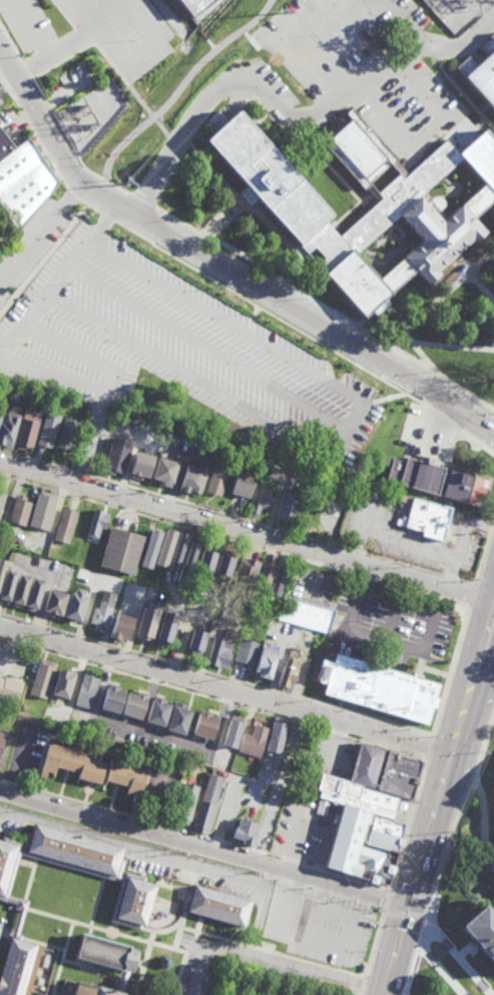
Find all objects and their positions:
building: (194, 5)
power substation: (460, 12)
power tower: (287, 13)
road: (409, 23)
road: (29, 27)
road: (66, 40)
parking lot: (89, 44)
road: (140, 54)
power tower: (222, 56)
parking lot: (359, 61)
road: (306, 63)
building: (465, 65)
building: (483, 78)
road: (181, 85)
road: (348, 93)
parking lot: (4, 98)
power substation: (88, 114)
road: (56, 117)
road: (33, 134)
building: (266, 175)
building: (23, 179)
road: (101, 184)
power tower: (129, 184)
road: (72, 194)
road: (356, 194)
road: (369, 198)
road: (146, 201)
road: (84, 202)
road: (95, 209)
building: (410, 210)
road: (248, 212)
road: (225, 216)
road: (111, 217)
road: (41, 230)
parking lot: (36, 235)
parking lot: (1, 237)
road: (323, 238)
road: (341, 249)
road: (335, 253)
power tower: (59, 255)
road: (45, 261)
road: (221, 261)
road: (481, 261)
road: (306, 265)
road: (463, 265)
road: (63, 276)
road: (294, 290)
road: (271, 296)
parking lot: (268, 300)
road: (255, 312)
road: (269, 315)
road: (225, 320)
road: (414, 321)
road: (250, 325)
road: (193, 339)
parking lot: (154, 347)
road: (2, 350)
road: (2, 352)
road: (78, 352)
road: (175, 367)
road: (449, 380)
road: (98, 391)
road: (443, 416)
building: (8, 427)
road: (308, 427)
building: (350, 427)
building: (48, 430)
building: (27, 431)
building: (66, 434)
road: (479, 448)
building: (127, 459)
road: (41, 461)
building: (163, 471)
road: (89, 474)
building: (217, 479)
building: (192, 480)
building: (439, 480)
building: (242, 482)
building: (260, 498)
building: (287, 507)
building: (0, 510)
building: (20, 510)
building: (43, 510)
road: (223, 513)
building: (430, 520)
building: (97, 524)
road: (177, 524)
building: (65, 525)
road: (246, 530)
building: (165, 548)
building: (150, 549)
building: (177, 550)
building: (121, 551)
road: (357, 551)
road: (483, 551)
building: (206, 559)
building: (188, 561)
building: (224, 562)
road: (402, 564)
building: (2, 568)
building: (246, 573)
road: (362, 576)
road: (448, 578)
building: (271, 579)
road: (464, 582)
building: (8, 585)
building: (21, 589)
road: (420, 592)
building: (34, 594)
road: (471, 595)
building: (55, 603)
building: (76, 604)
building: (103, 610)
building: (305, 614)
building: (147, 621)
road: (391, 622)
building: (121, 627)
building: (166, 628)
road: (374, 639)
building: (196, 643)
building: (245, 651)
building: (220, 653)
building: (265, 659)
road: (450, 671)
building: (288, 673)
road: (216, 675)
building: (42, 678)
building: (63, 683)
building: (376, 687)
building: (10, 689)
road: (225, 690)
building: (87, 691)
road: (213, 697)
building: (113, 699)
building: (134, 705)
building: (158, 712)
building: (178, 719)
building: (204, 725)
building: (232, 731)
building: (275, 735)
building: (1, 738)
building: (252, 741)
road: (429, 746)
building: (93, 769)
building: (388, 771)
road: (278, 786)
building: (492, 790)
building: (356, 798)
building: (187, 804)
building: (207, 804)
road: (104, 809)
road: (434, 815)
road: (481, 816)
road: (409, 823)
building: (493, 824)
road: (14, 828)
road: (488, 830)
building: (244, 832)
building: (386, 834)
road: (216, 840)
road: (239, 846)
road: (205, 847)
building: (359, 849)
road: (445, 851)
building: (75, 852)
road: (470, 853)
road: (131, 854)
building: (493, 854)
road: (167, 861)
road: (129, 863)
building: (7, 866)
road: (320, 869)
road: (194, 879)
road: (410, 893)
building: (132, 901)
road: (385, 901)
road: (96, 902)
traffic signals: (411, 904)
building: (222, 908)
parking lot: (371, 914)
road: (404, 914)
road: (178, 924)
road: (113, 928)
road: (450, 928)
road: (89, 930)
road: (106, 930)
building: (481, 933)
road: (3, 934)
road: (177, 935)
road: (211, 936)
road: (328, 944)
road: (43, 945)
road: (372, 945)
road: (3, 946)
road: (254, 948)
road: (467, 955)
road: (62, 958)
road: (455, 961)
building: (104, 962)
road: (274, 962)
road: (144, 963)
road: (313, 963)
building: (18, 967)
road: (101, 969)
road: (441, 971)
road: (179, 973)
road: (361, 985)
road: (359, 994)
road: (359, 994)

